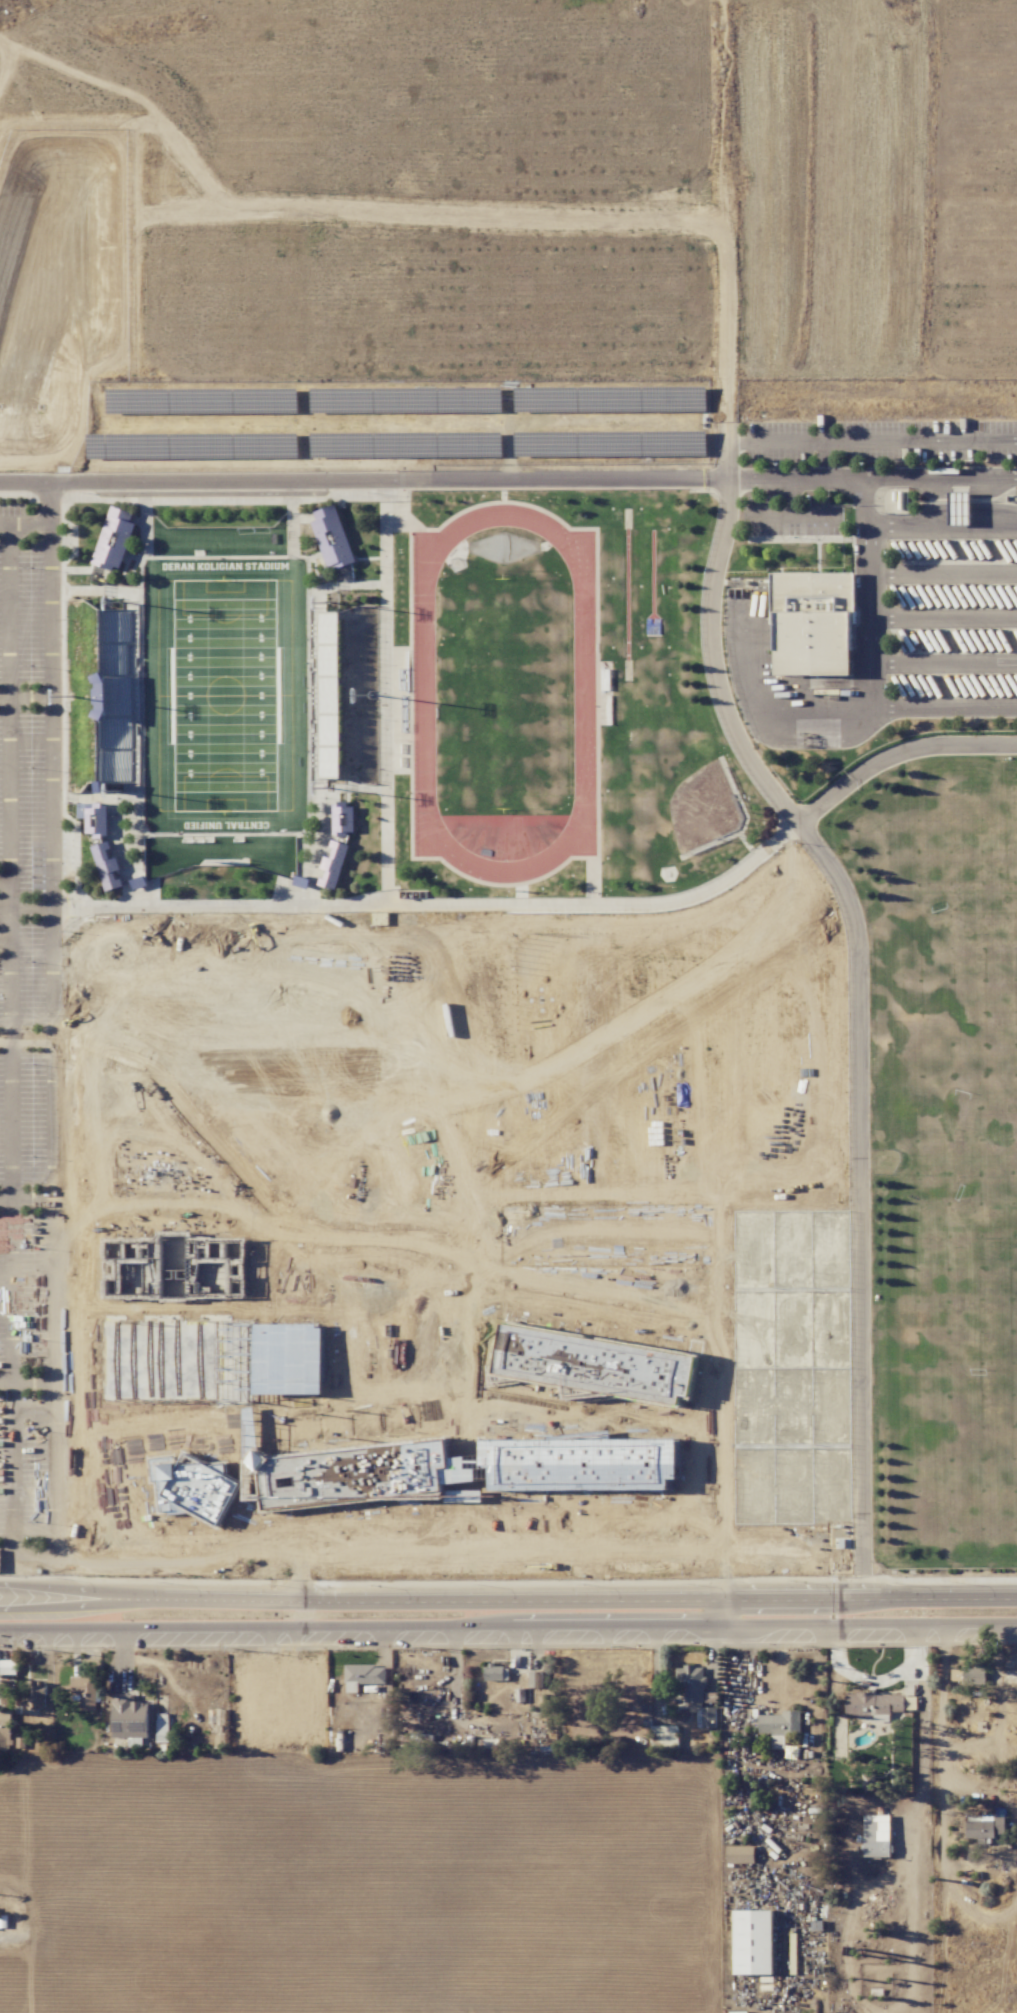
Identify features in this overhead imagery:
road: (873, 441)
road: (874, 475)
road: (365, 483)
road: (865, 502)
building: (959, 508)
road: (770, 515)
road: (795, 515)
road: (25, 519)
road: (941, 529)
building: (332, 538)
building: (114, 539)
road: (942, 573)
road: (942, 620)
building: (814, 627)
road: (943, 664)
track: (584, 693)
road: (385, 694)
road: (869, 695)
road: (53, 696)
road: (9, 700)
road: (768, 716)
road: (896, 754)
building: (94, 817)
building: (343, 820)
building: (333, 865)
building: (107, 867)
road: (10, 890)
road: (449, 905)
road: (38, 908)
road: (11, 929)
road: (856, 991)
road: (55, 1240)
road: (13, 1246)
building: (596, 1366)
building: (354, 1474)
road: (27, 1555)
road: (212, 1563)
road: (78, 1600)
road: (948, 1600)
road: (518, 1603)
road: (720, 1613)
road: (508, 1625)
building: (7, 1666)
building: (496, 1672)
building: (963, 1675)
building: (363, 1676)
building: (535, 1679)
building: (85, 1692)
building: (35, 1694)
building: (696, 1694)
building: (874, 1704)
road: (942, 1710)
building: (130, 1716)
building: (780, 1726)
building: (162, 1727)
road: (923, 1747)
building: (869, 1781)
building: (985, 1827)
building: (877, 1836)
building: (740, 1854)
building: (753, 1942)

